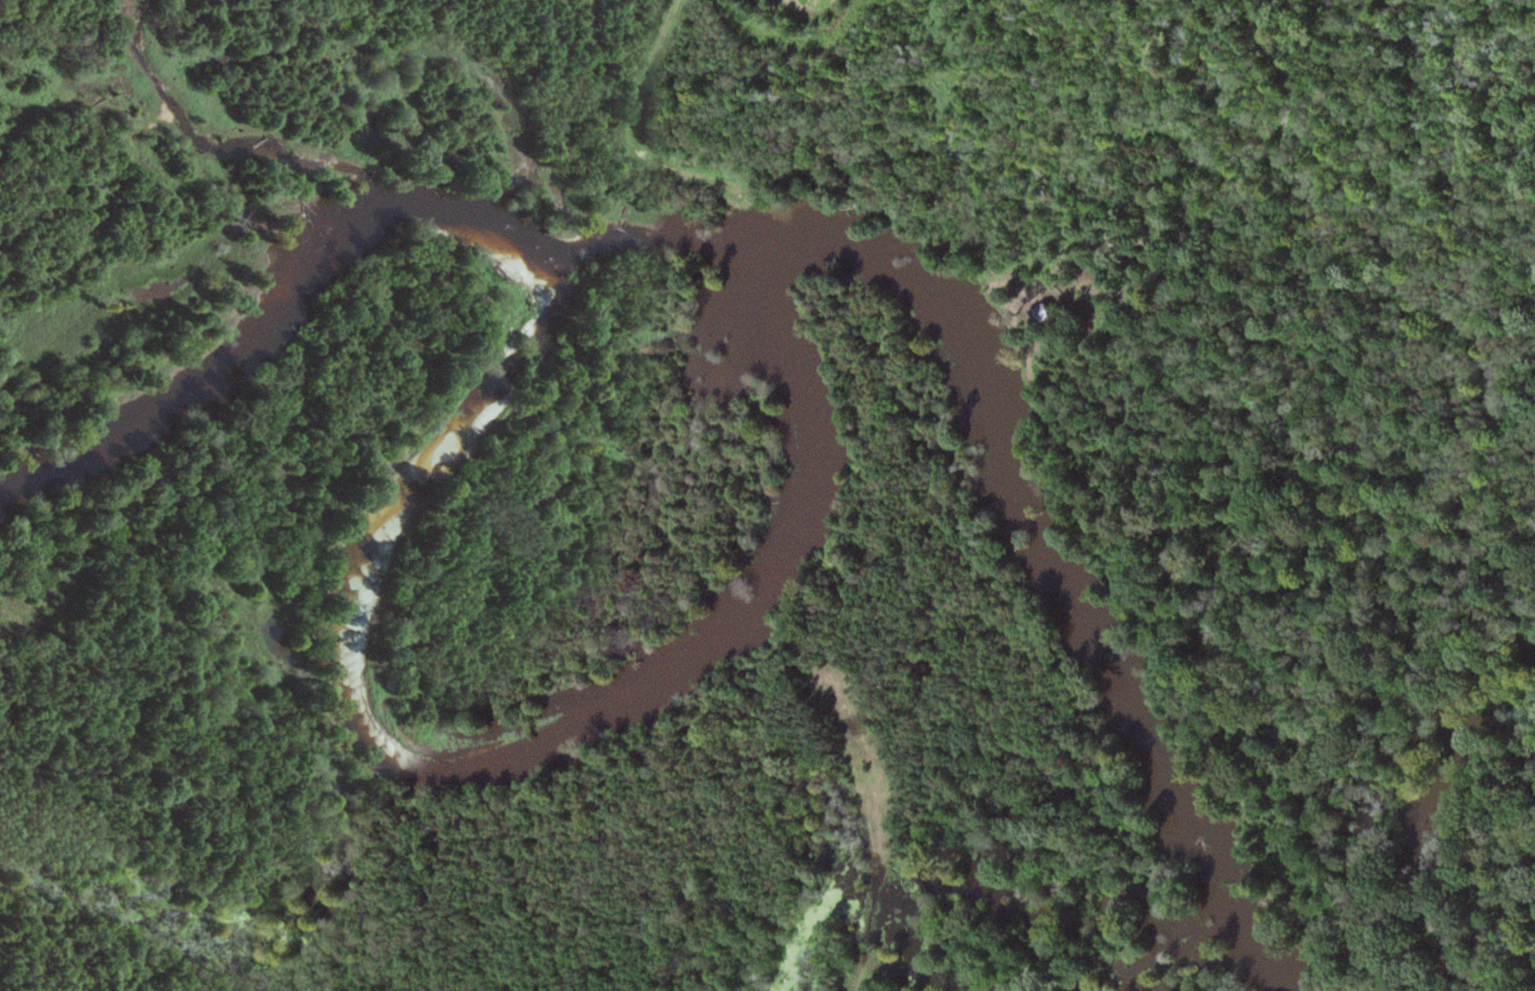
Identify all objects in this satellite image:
park: (233, 658)

